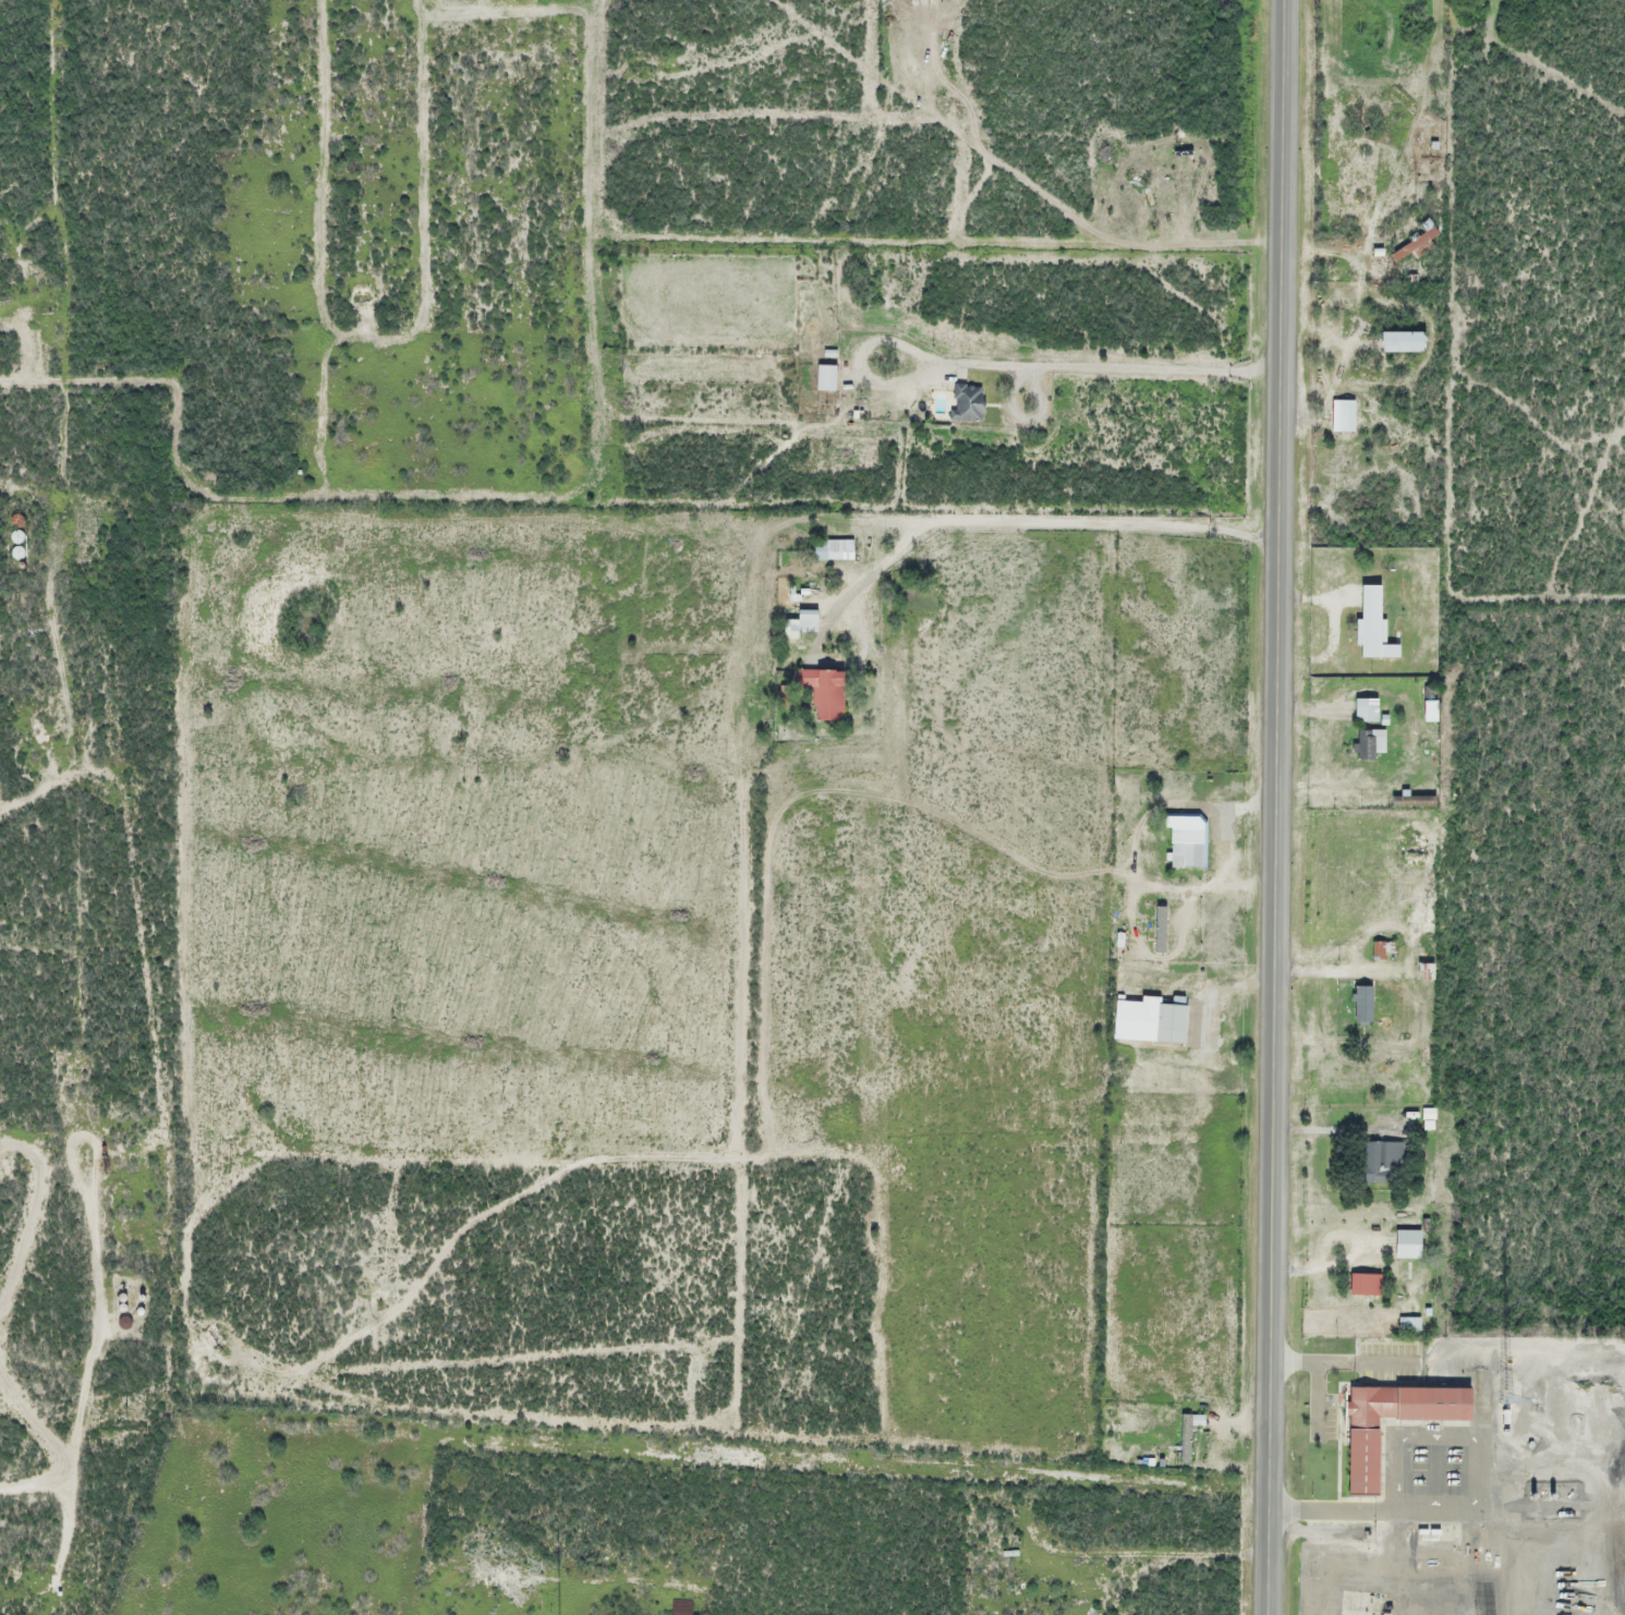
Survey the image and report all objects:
building: (1411, 241)
building: (1397, 342)
building: (823, 378)
building: (965, 403)
building: (1344, 416)
building: (830, 550)
building: (1373, 626)
building: (788, 629)
building: (823, 692)
building: (1363, 711)
building: (1366, 744)
road: (1274, 807)
building: (1184, 839)
building: (1381, 951)
building: (1420, 972)
building: (1360, 1006)
building: (1147, 1021)
building: (1390, 1157)
building: (1405, 1244)
building: (1362, 1285)
building: (1359, 1458)

